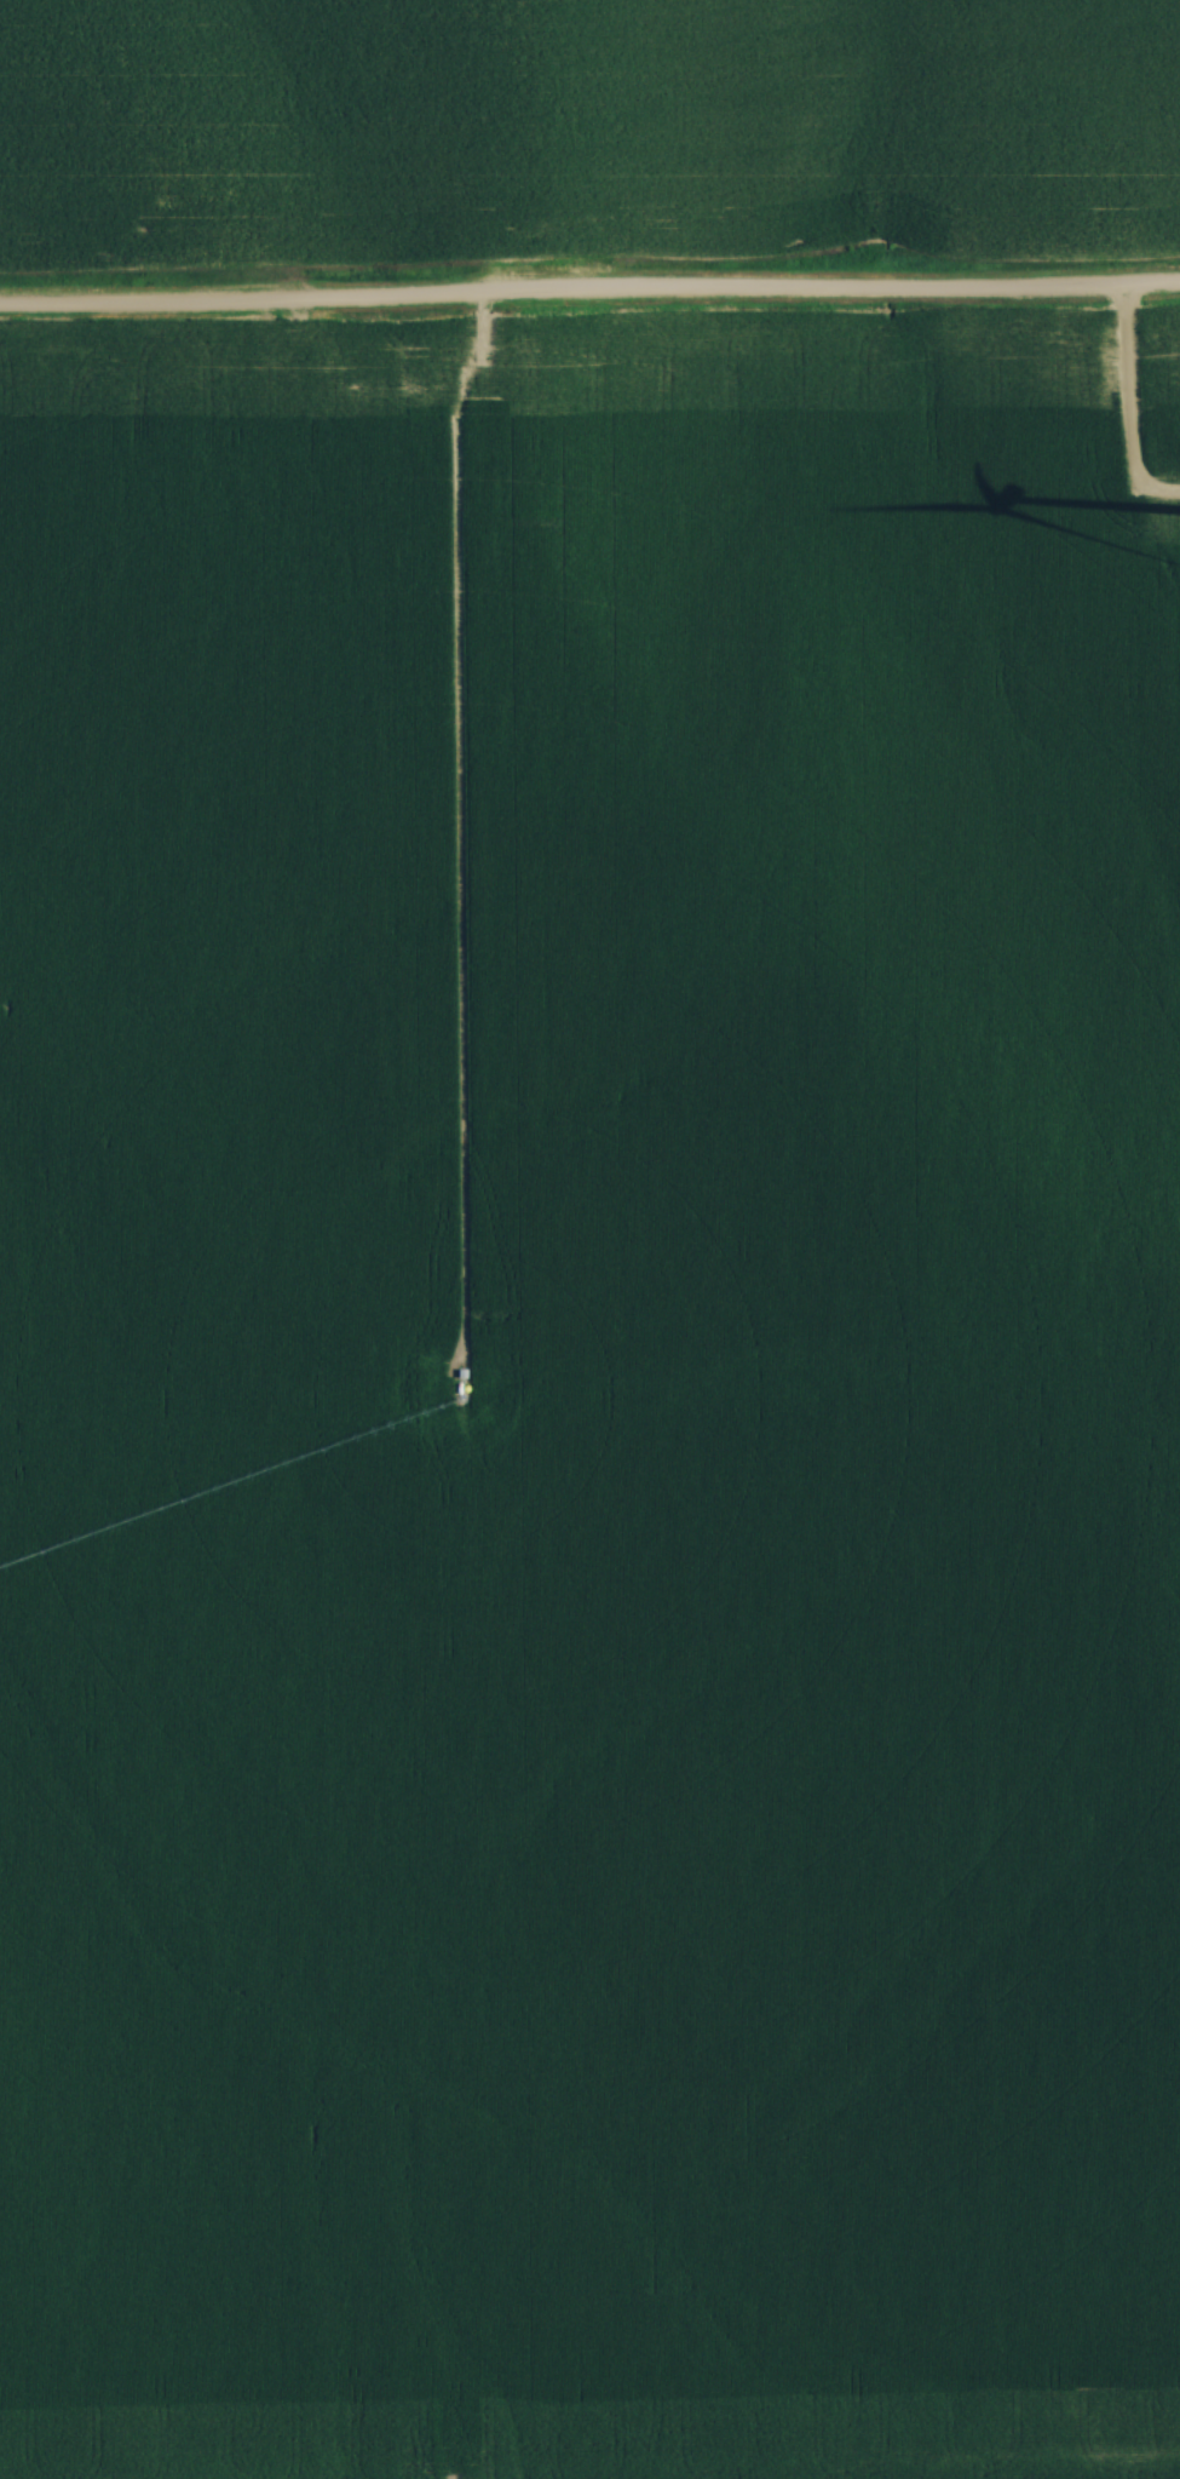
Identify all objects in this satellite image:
road: (589, 298)

